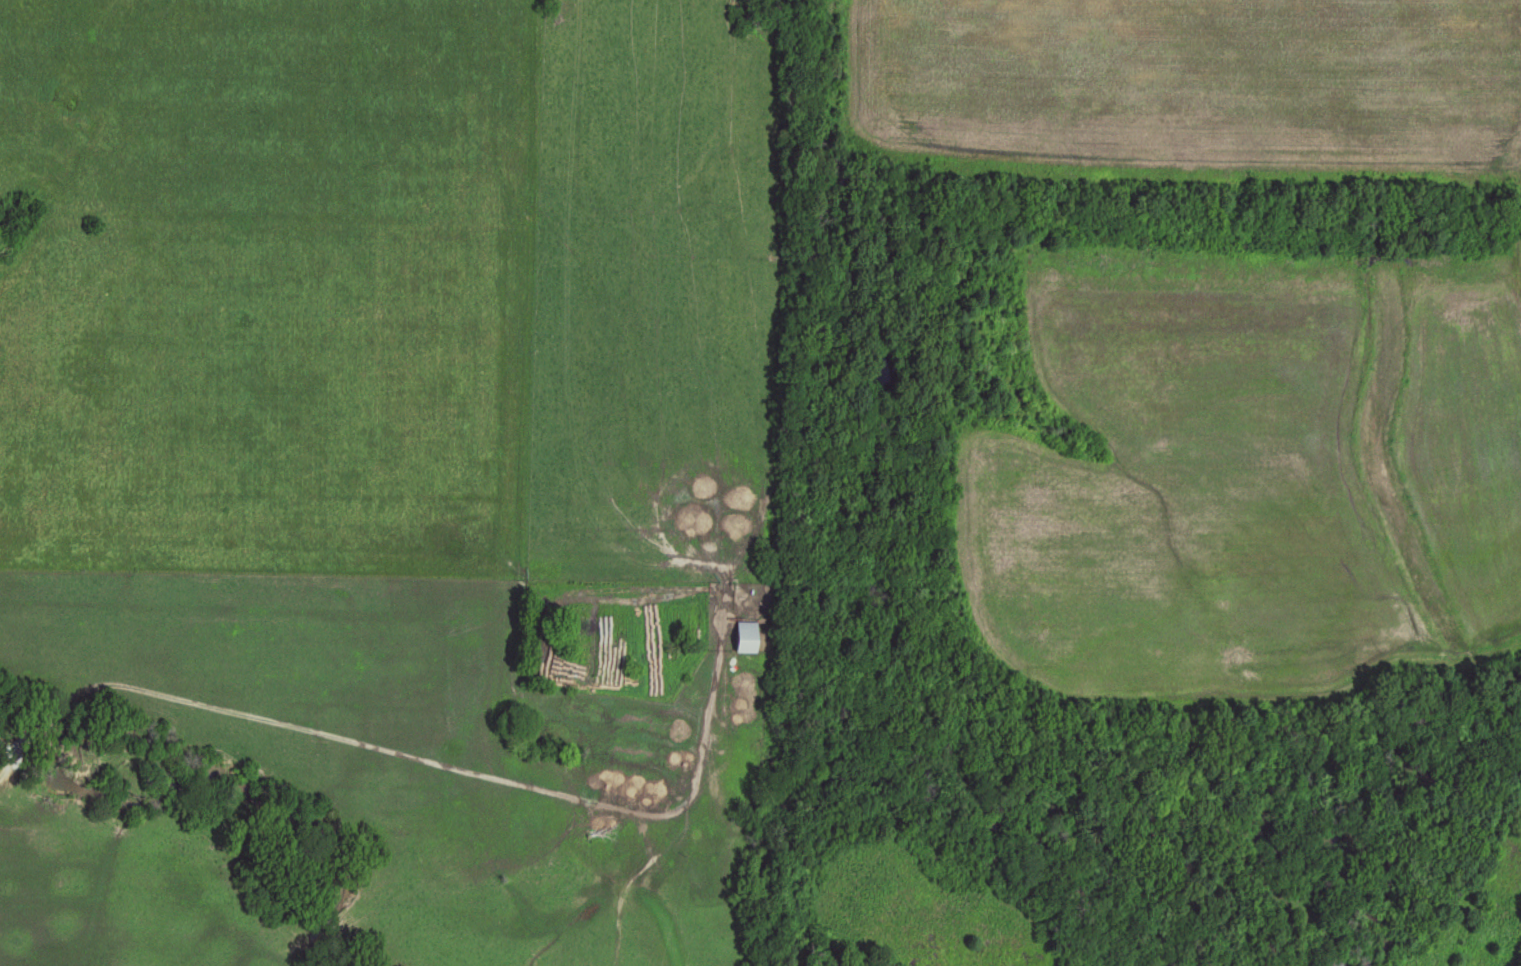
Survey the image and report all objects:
building: (744, 637)

